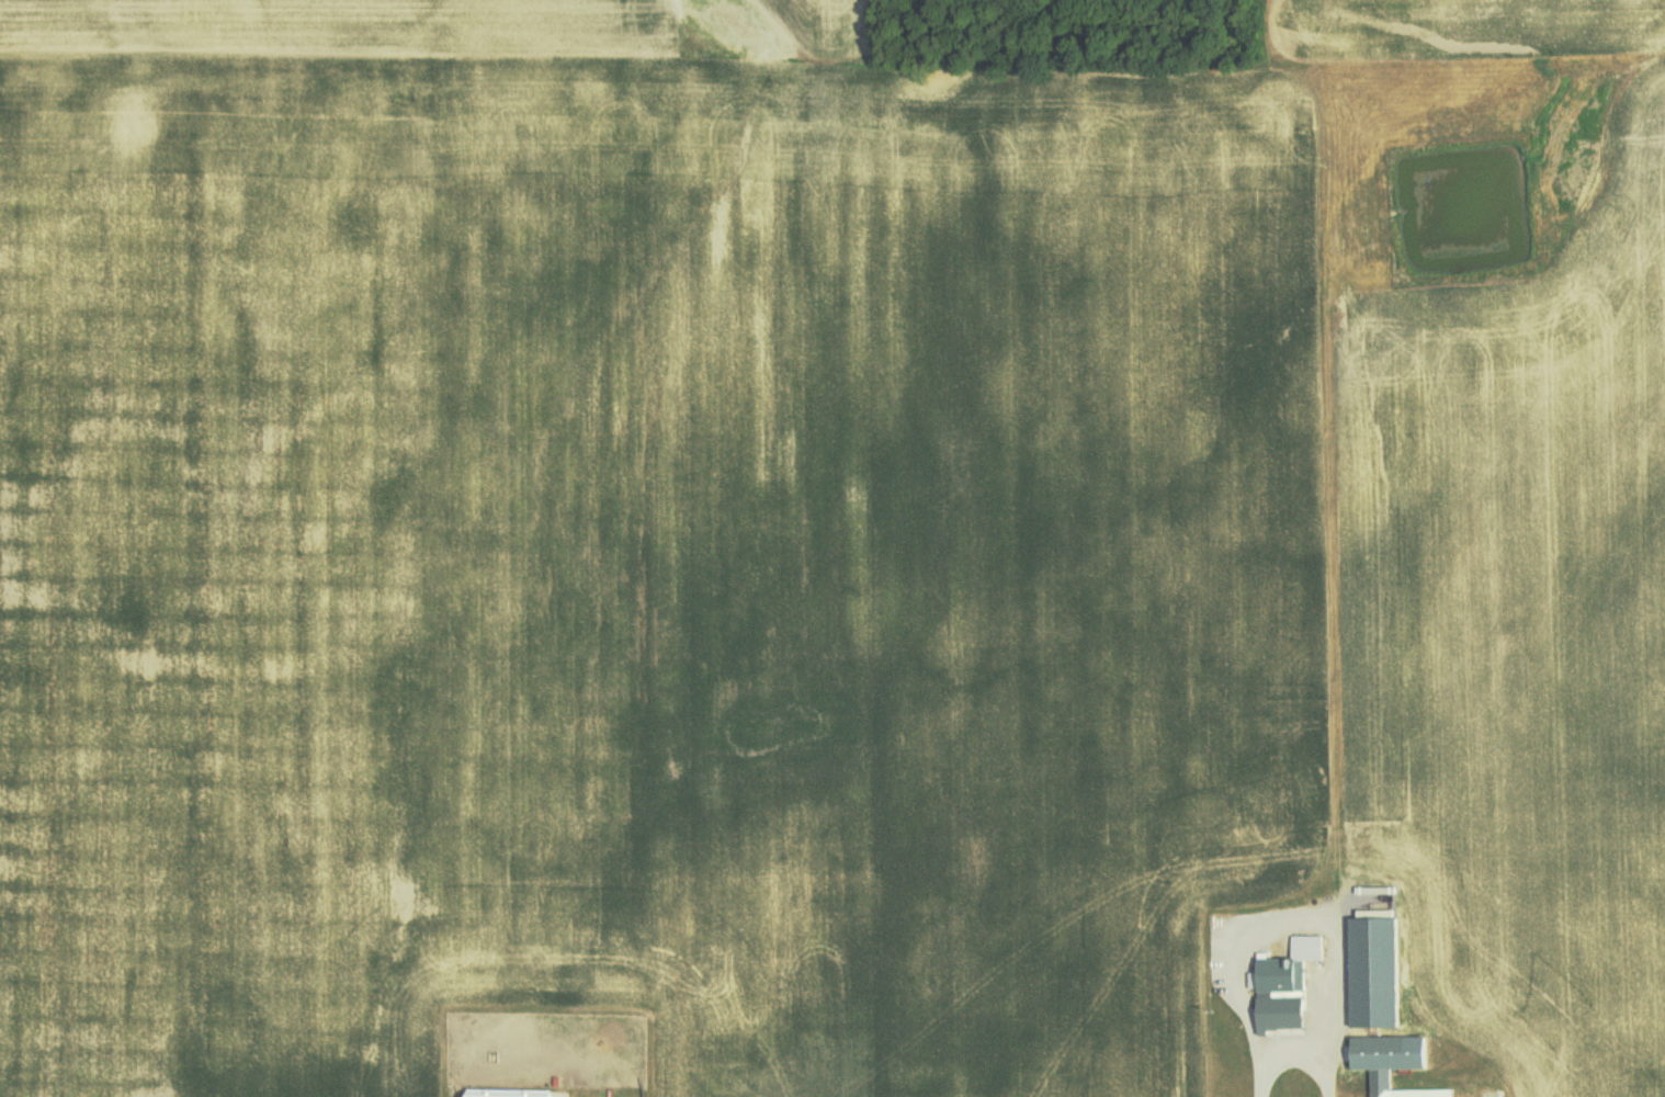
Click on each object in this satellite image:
crop: (1472, 24)
crop: (639, 553)
crop: (1509, 663)
building: (1291, 985)
building: (1395, 1064)
road: (1301, 1070)
building: (512, 1094)

